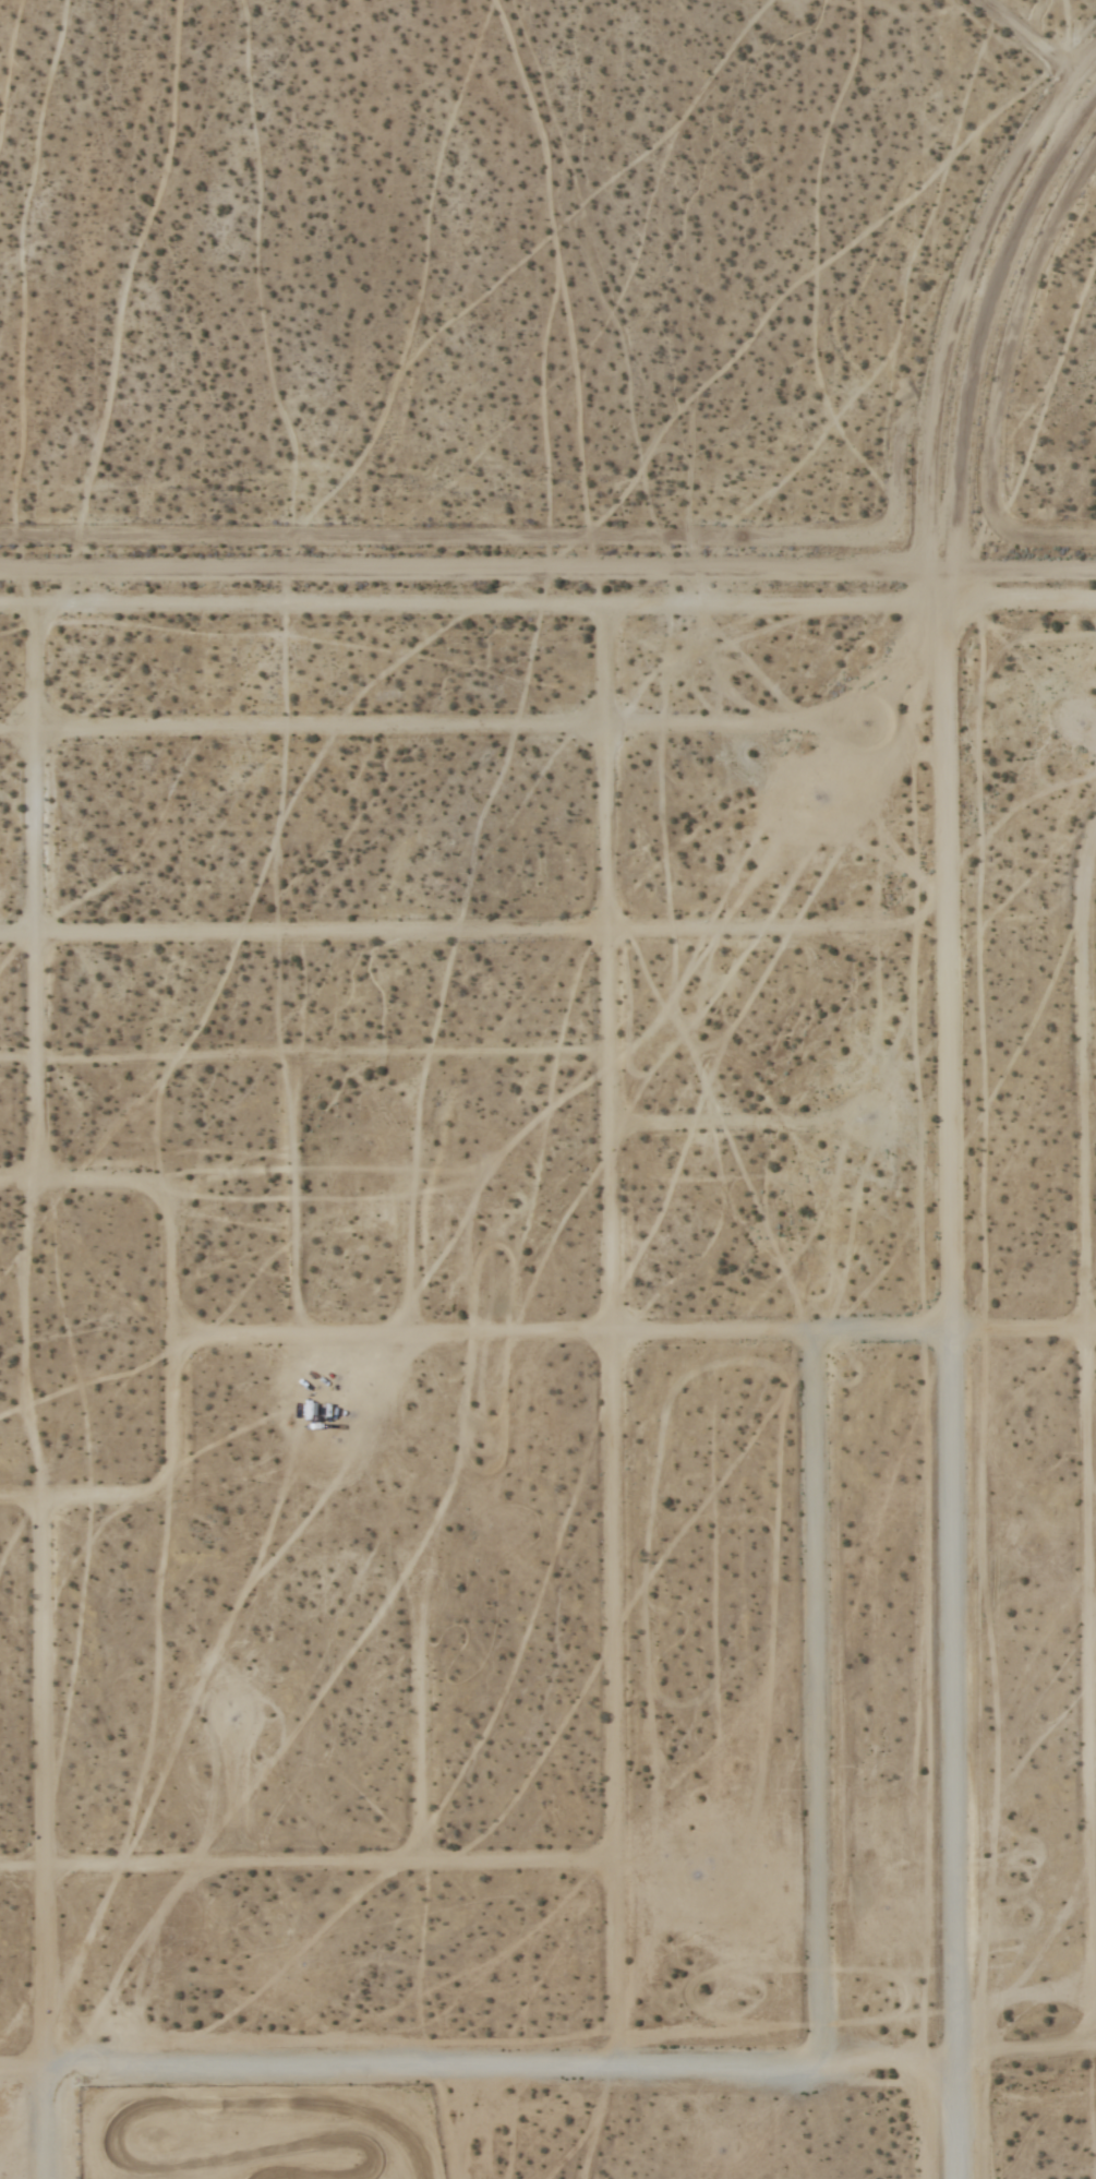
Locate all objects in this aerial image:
road: (1034, 37)
road: (547, 565)
road: (547, 601)
road: (427, 732)
road: (35, 896)
road: (426, 938)
road: (740, 1130)
road: (1091, 1132)
road: (410, 1244)
road: (614, 1318)
crop: (564, 1331)
road: (634, 1338)
road: (173, 1346)
road: (952, 1370)
road: (1088, 1440)
road: (1094, 1626)
road: (818, 1703)
road: (417, 1719)
road: (236, 1797)
road: (44, 1840)
road: (1095, 1848)
road: (306, 1868)
road: (1027, 2058)
road: (480, 2071)
raceway: (270, 2073)

